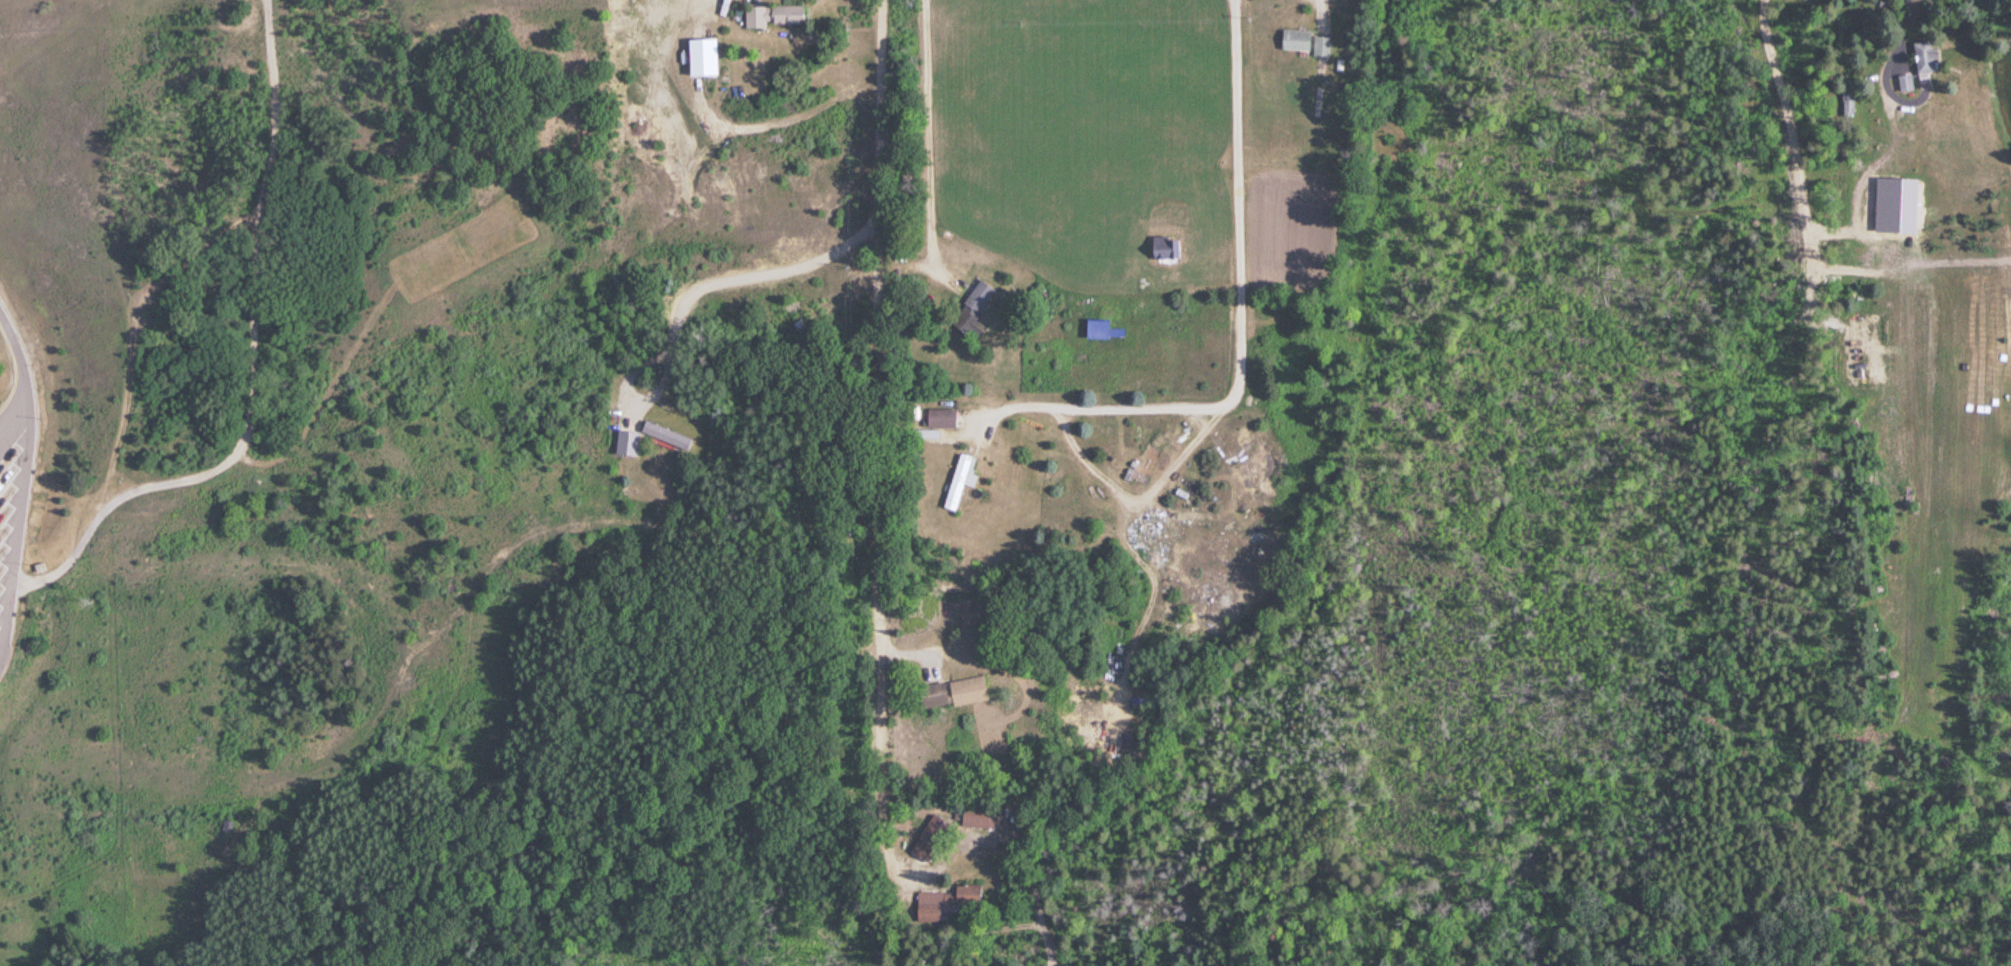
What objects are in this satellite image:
building: (771, 14)
building: (1305, 40)
building: (1923, 54)
building: (1904, 81)
road: (1900, 99)
building: (1847, 102)
building: (1163, 246)
building: (972, 309)
building: (1095, 327)
road: (255, 365)
road: (30, 373)
road: (883, 413)
building: (940, 417)
building: (665, 434)
building: (627, 443)
building: (959, 480)
parking lot: (16, 500)
road: (19, 525)
building: (39, 567)
building: (1218, 617)
building: (948, 692)
building: (1106, 743)
building: (978, 815)
building: (929, 837)
building: (946, 901)

